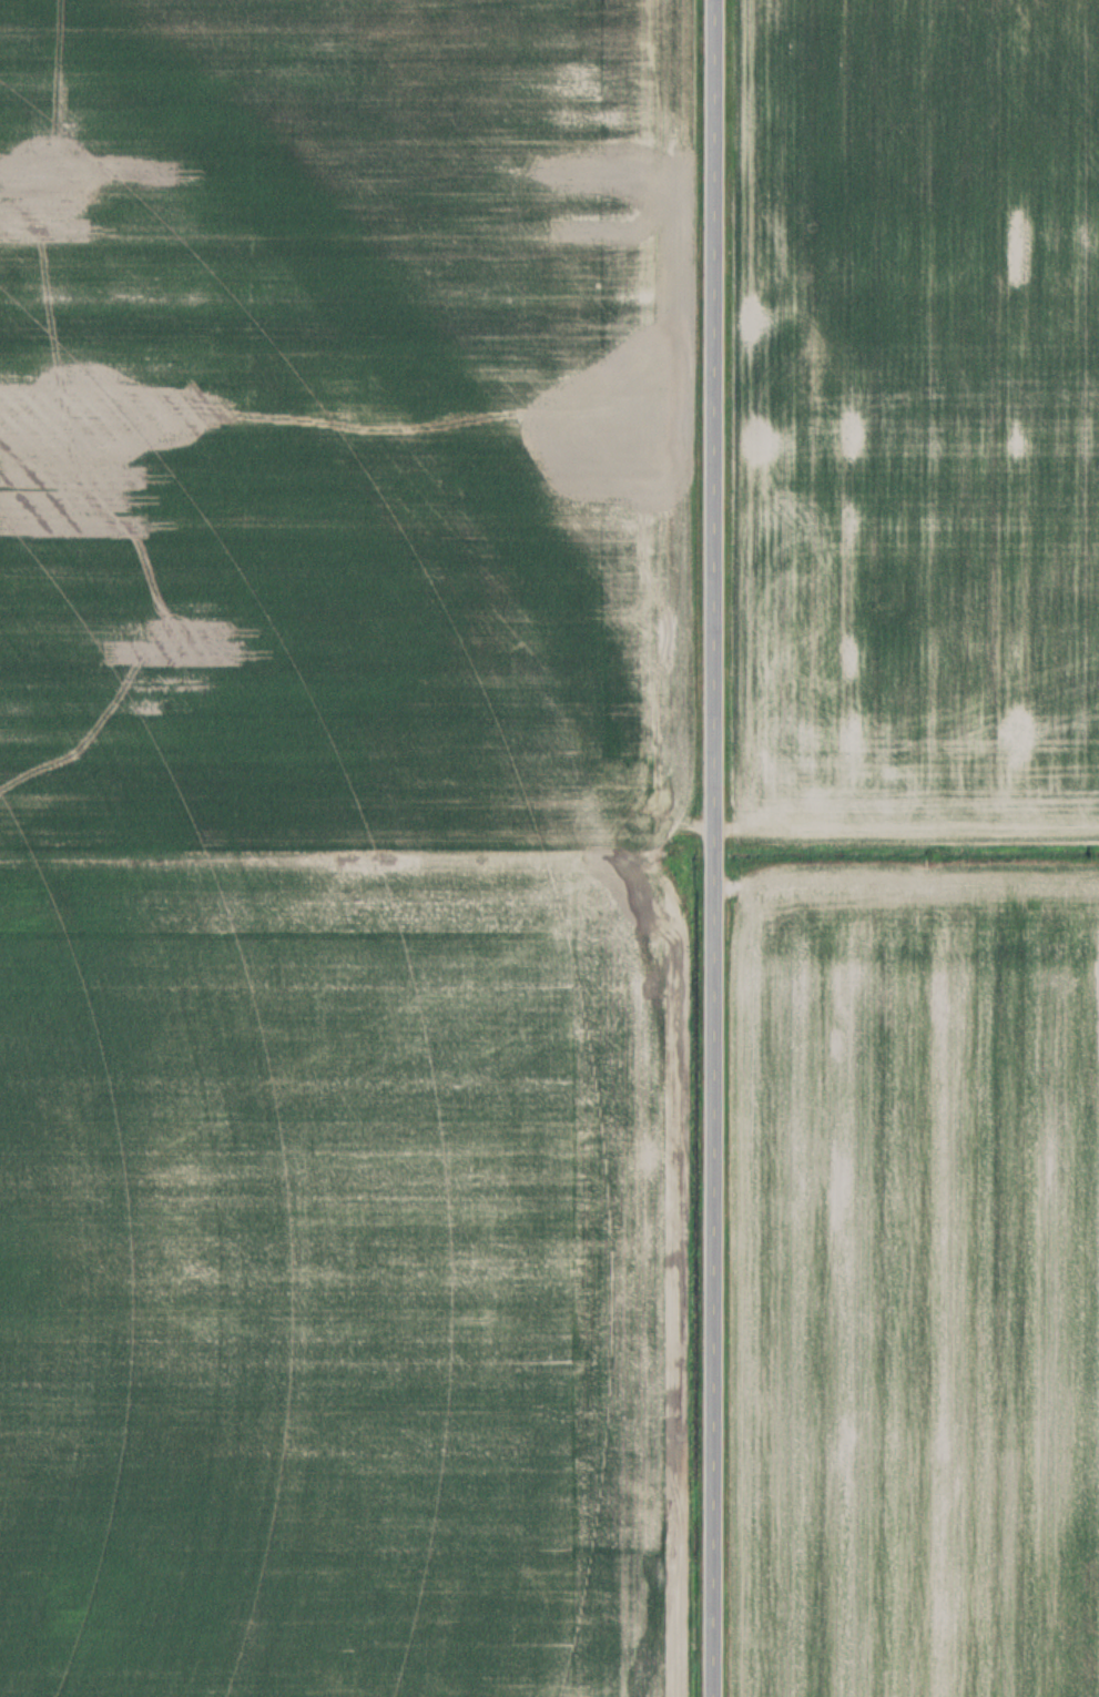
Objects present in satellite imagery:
road: (713, 848)

